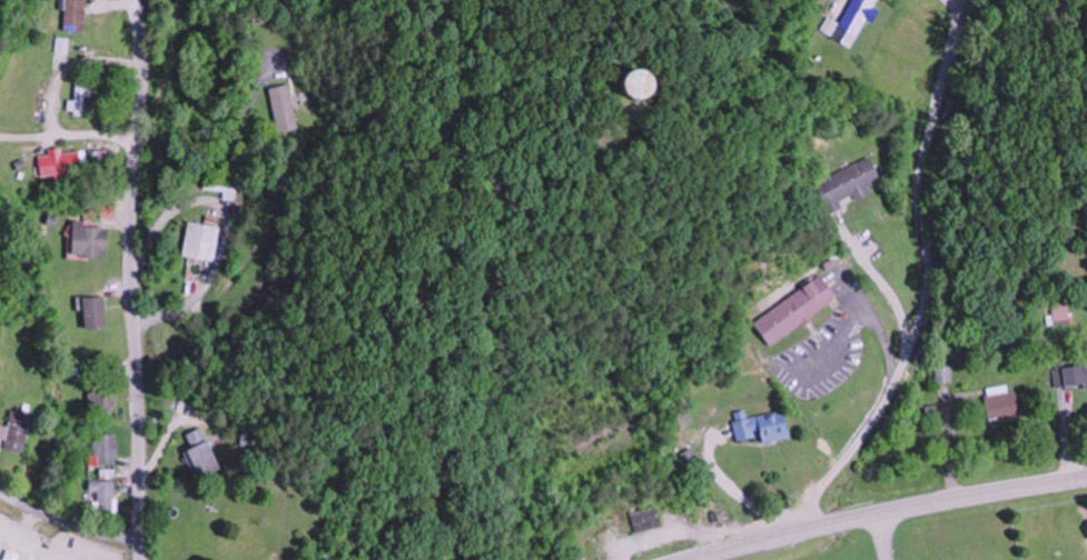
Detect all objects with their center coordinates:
building: (79, 17)
building: (853, 20)
building: (62, 46)
building: (626, 84)
building: (81, 98)
building: (283, 108)
road: (263, 146)
building: (58, 163)
building: (847, 184)
building: (231, 188)
road: (190, 206)
road: (270, 237)
building: (89, 240)
building: (200, 241)
road: (131, 279)
building: (794, 311)
building: (93, 312)
building: (1061, 313)
park: (181, 339)
building: (1070, 374)
building: (100, 403)
building: (1002, 404)
building: (760, 426)
building: (16, 431)
building: (103, 449)
building: (199, 456)
building: (103, 494)
road: (889, 513)
building: (645, 520)
road: (67, 523)
building: (605, 537)
road: (882, 538)

